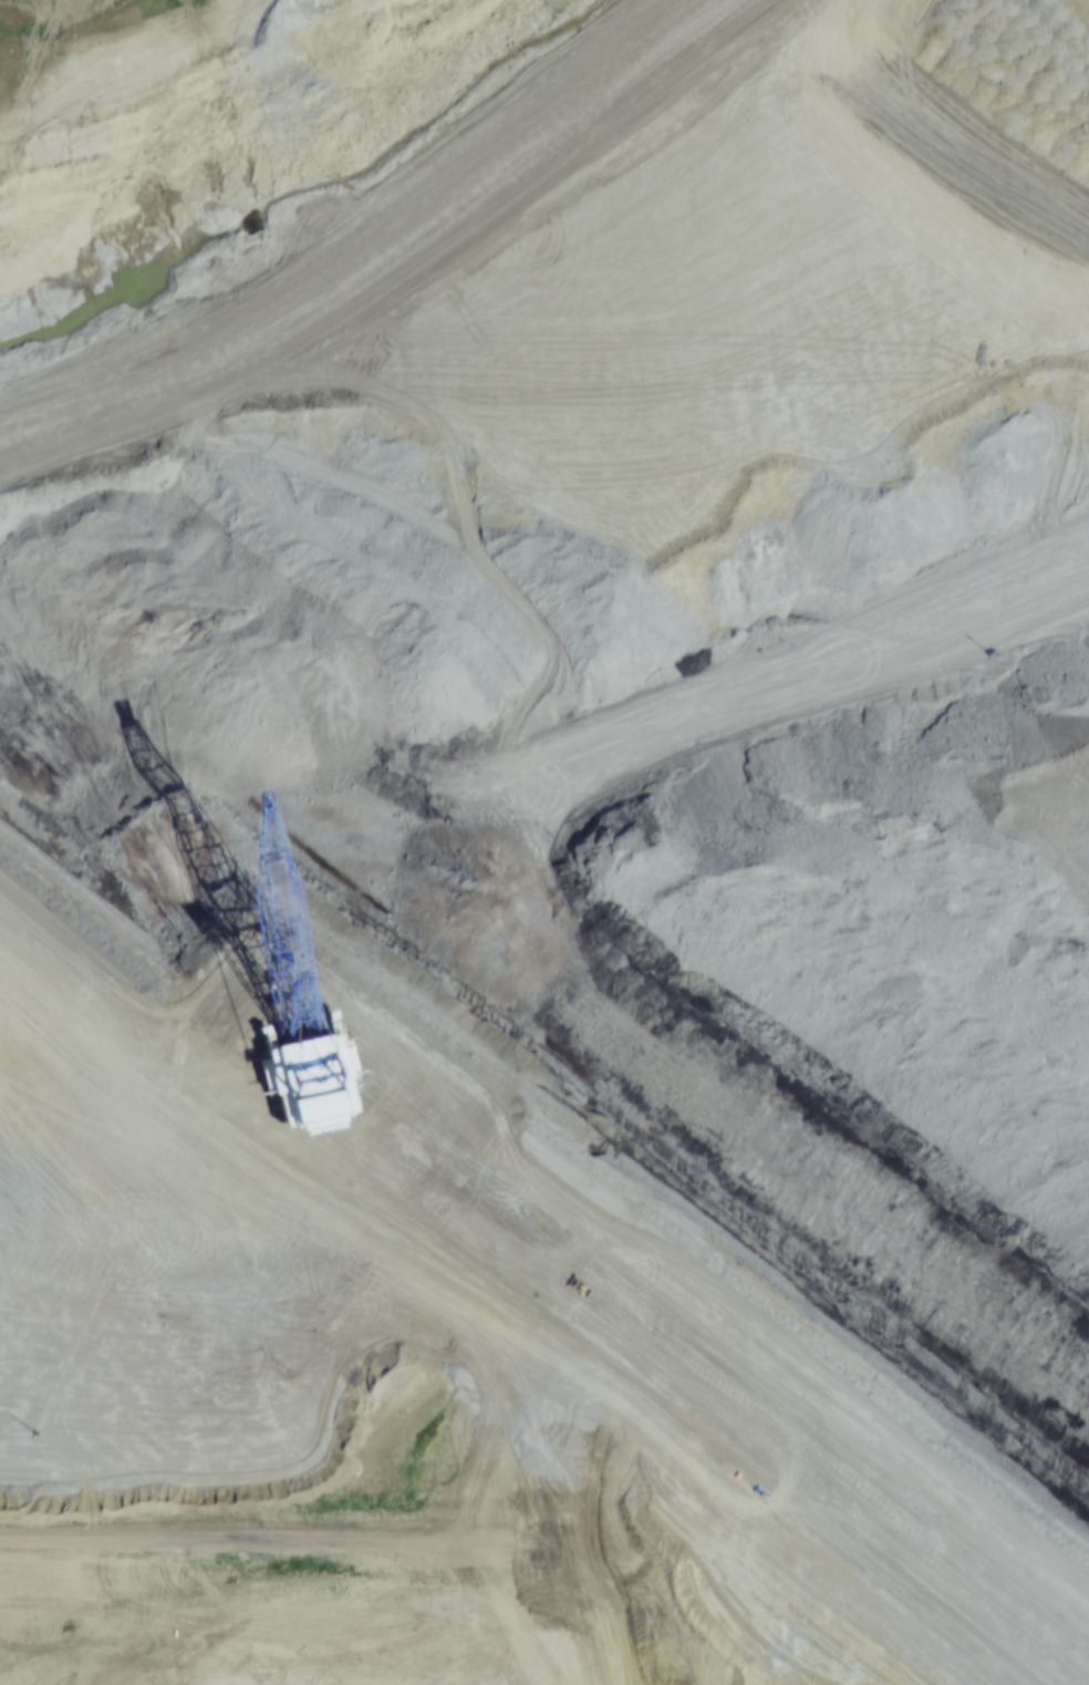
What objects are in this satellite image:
road: (543, 1547)

